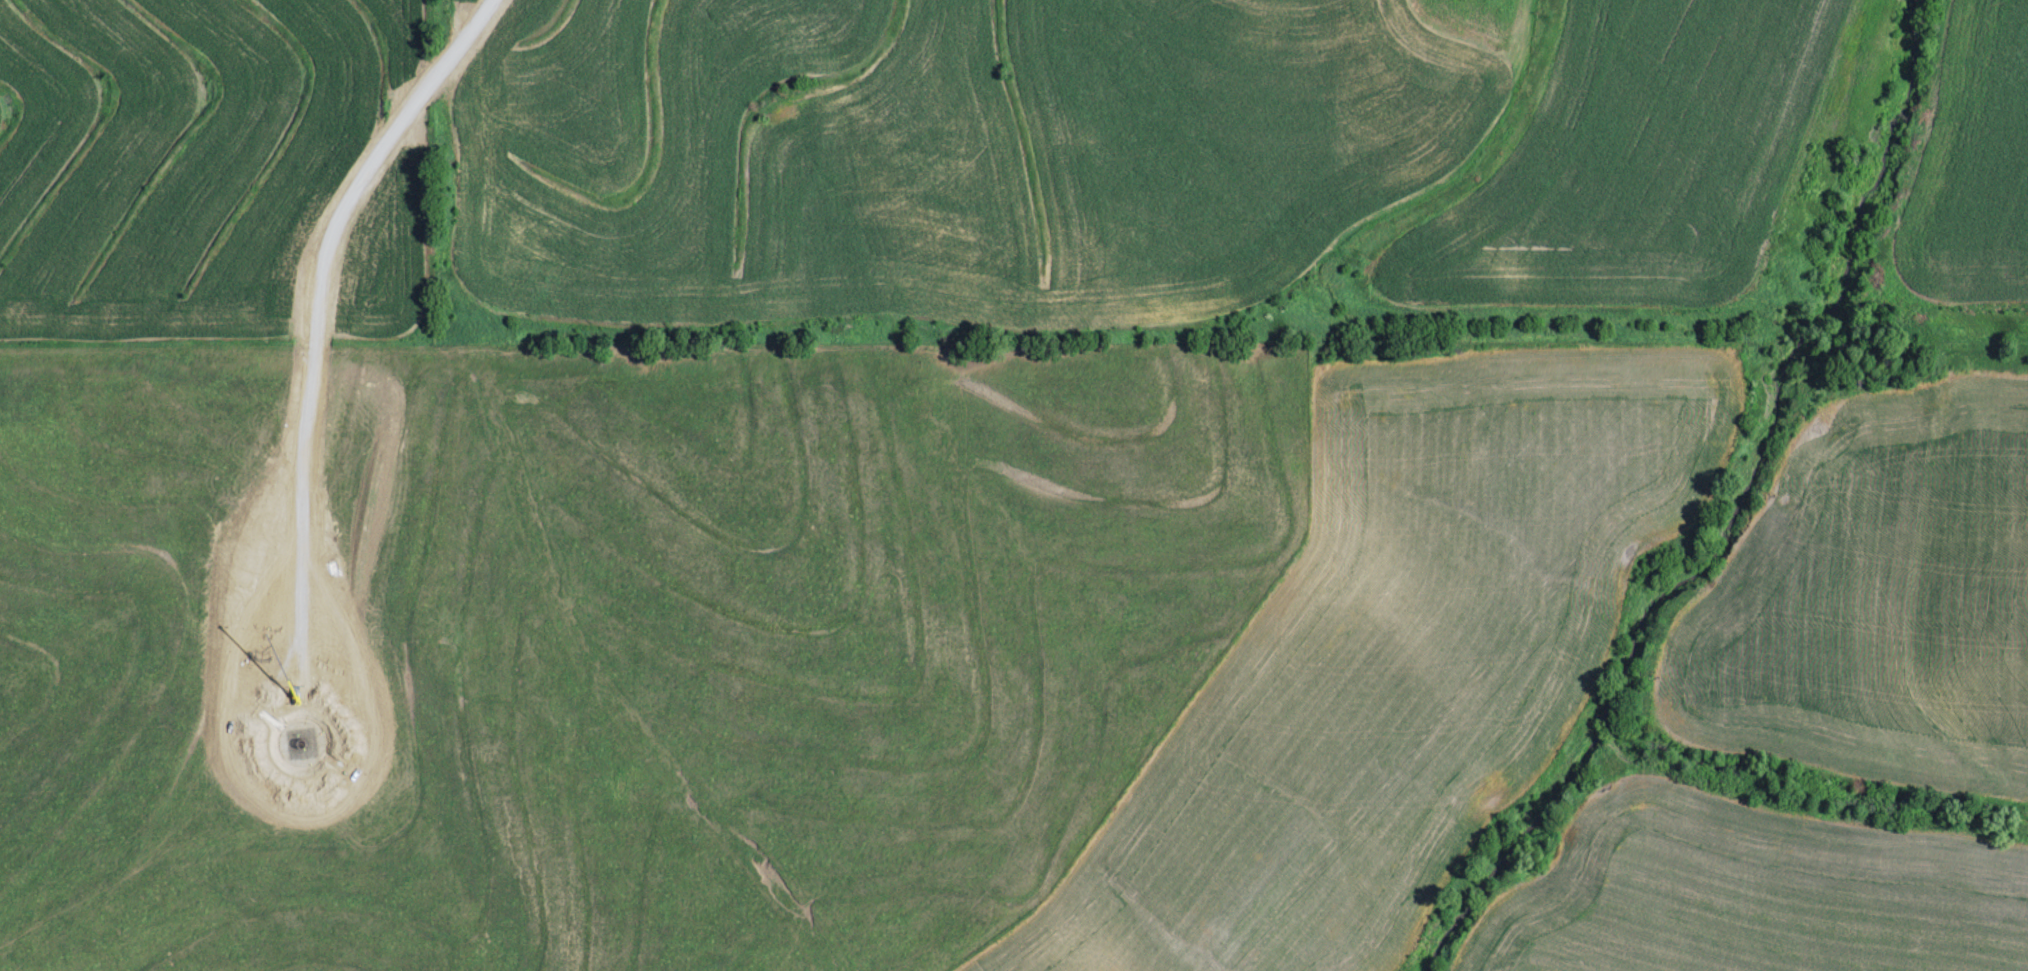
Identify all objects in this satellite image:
wind turbine: (308, 722)

